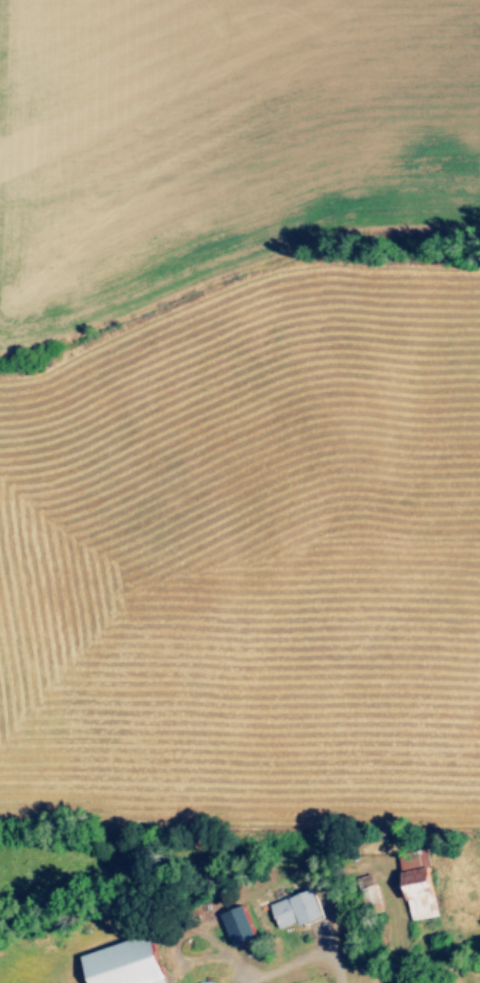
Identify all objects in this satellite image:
building: (422, 885)
building: (376, 901)
building: (300, 911)
road: (312, 955)
building: (129, 963)
building: (210, 976)

